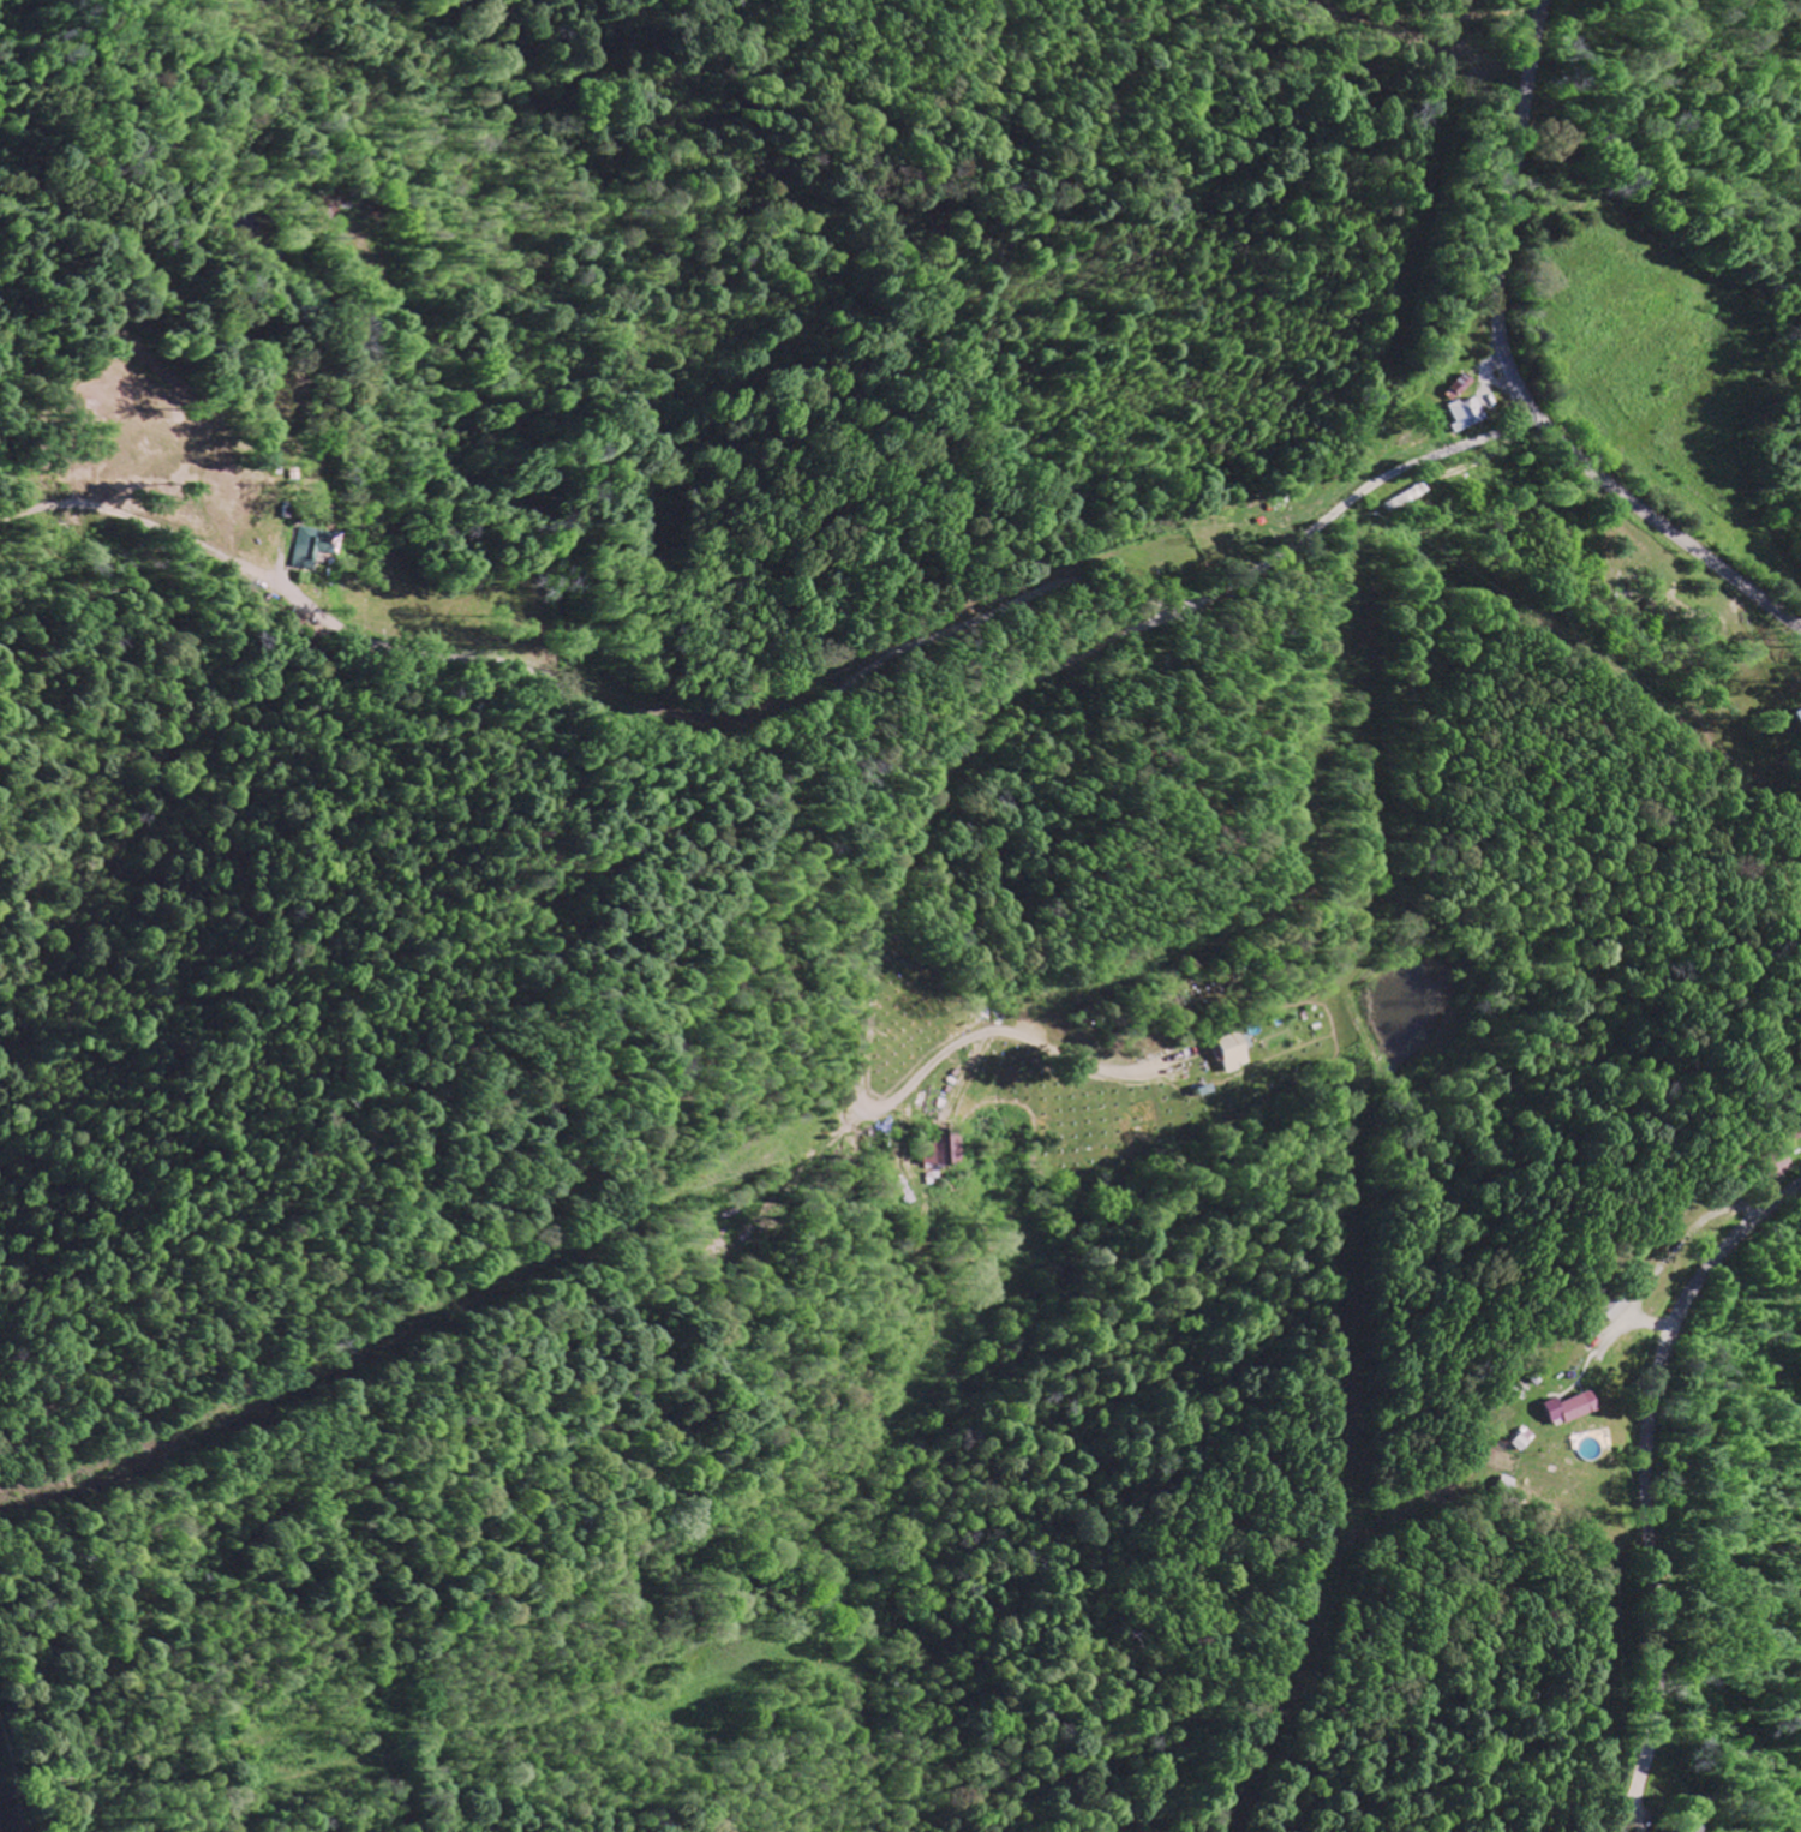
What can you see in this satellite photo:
road: (1423, 20)
road: (1513, 379)
building: (1456, 387)
building: (1460, 415)
building: (304, 549)
road: (915, 651)
road: (916, 815)
building: (1215, 1054)
building: (933, 1154)
building: (1560, 1411)
road: (1644, 1479)

